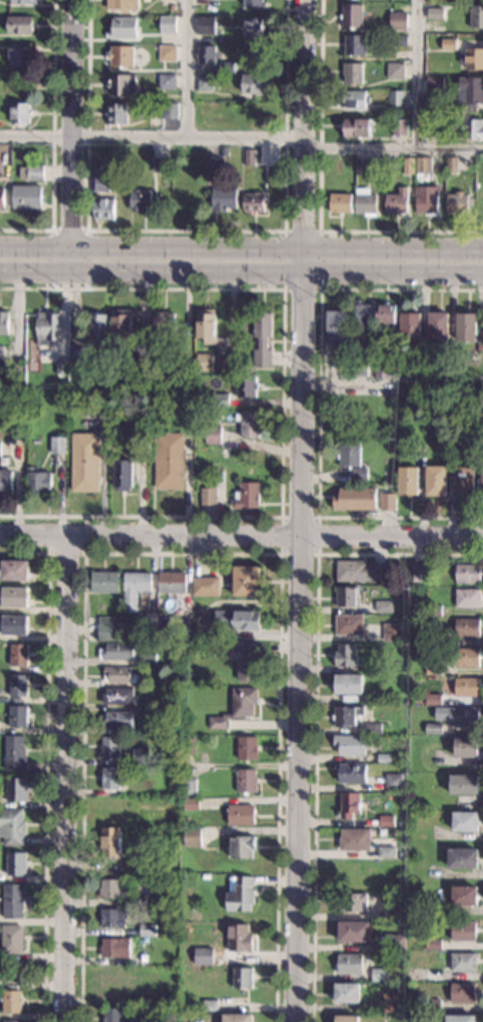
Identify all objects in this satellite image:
building: (24, 2)
building: (253, 4)
building: (122, 5)
building: (172, 7)
building: (434, 13)
building: (350, 15)
building: (476, 16)
building: (396, 21)
building: (166, 24)
building: (19, 25)
building: (205, 25)
building: (252, 27)
building: (123, 28)
building: (398, 40)
building: (447, 44)
building: (354, 45)
building: (166, 53)
building: (205, 54)
building: (120, 55)
building: (19, 56)
building: (472, 59)
building: (226, 67)
road: (186, 68)
building: (394, 70)
building: (351, 73)
road: (417, 74)
building: (166, 82)
building: (204, 82)
building: (252, 83)
building: (122, 84)
building: (433, 85)
building: (469, 93)
building: (354, 99)
building: (395, 99)
building: (169, 111)
building: (201, 111)
building: (19, 113)
building: (254, 113)
building: (116, 114)
building: (430, 124)
building: (398, 127)
building: (356, 128)
building: (472, 128)
road: (71, 134)
road: (150, 136)
road: (52, 140)
road: (392, 147)
building: (224, 151)
building: (249, 157)
building: (479, 164)
building: (162, 165)
building: (450, 165)
building: (214, 166)
building: (360, 166)
building: (407, 166)
building: (421, 167)
building: (31, 173)
building: (101, 183)
building: (1, 197)
building: (26, 197)
road: (318, 197)
building: (186, 198)
building: (426, 199)
building: (139, 200)
building: (223, 200)
building: (364, 201)
building: (253, 202)
building: (396, 202)
building: (340, 203)
building: (457, 203)
building: (479, 204)
building: (103, 209)
road: (185, 230)
road: (52, 241)
road: (241, 249)
road: (241, 269)
road: (318, 289)
building: (385, 313)
building: (360, 316)
building: (163, 321)
building: (4, 323)
building: (205, 325)
building: (120, 326)
building: (409, 326)
building: (336, 327)
building: (437, 327)
building: (465, 327)
building: (47, 328)
building: (96, 328)
building: (261, 339)
building: (1, 354)
building: (141, 354)
building: (76, 355)
building: (203, 362)
building: (185, 365)
building: (60, 366)
building: (337, 366)
building: (358, 368)
building: (381, 371)
building: (245, 386)
building: (482, 392)
building: (220, 401)
road: (281, 401)
road: (318, 404)
building: (387, 404)
building: (476, 404)
building: (248, 423)
building: (371, 423)
building: (212, 435)
building: (444, 436)
building: (58, 445)
building: (142, 445)
building: (0, 448)
building: (415, 450)
building: (348, 452)
building: (168, 461)
building: (84, 462)
building: (358, 473)
building: (121, 475)
building: (5, 481)
building: (38, 481)
building: (406, 481)
building: (435, 481)
building: (463, 481)
building: (482, 481)
building: (208, 496)
building: (246, 496)
building: (355, 498)
building: (386, 501)
road: (299, 510)
road: (241, 535)
road: (84, 551)
road: (181, 552)
road: (316, 552)
building: (14, 570)
building: (360, 571)
building: (419, 573)
building: (467, 573)
building: (104, 581)
building: (245, 581)
building: (172, 583)
building: (204, 586)
building: (134, 588)
building: (346, 596)
building: (14, 597)
building: (466, 598)
building: (382, 606)
building: (427, 610)
building: (150, 620)
building: (236, 620)
building: (13, 625)
building: (348, 625)
building: (106, 628)
building: (466, 628)
building: (390, 632)
building: (413, 639)
building: (433, 639)
building: (403, 647)
building: (244, 648)
building: (116, 651)
building: (18, 655)
building: (345, 656)
building: (466, 657)
building: (147, 659)
building: (152, 669)
building: (245, 669)
building: (432, 669)
building: (119, 675)
building: (348, 684)
building: (18, 685)
building: (465, 687)
building: (117, 696)
building: (432, 699)
building: (242, 701)
road: (314, 704)
building: (457, 715)
building: (17, 716)
building: (346, 716)
building: (117, 720)
building: (217, 723)
building: (372, 729)
building: (432, 729)
building: (186, 745)
building: (350, 745)
building: (110, 747)
building: (246, 748)
building: (465, 748)
building: (13, 752)
building: (140, 756)
building: (384, 758)
road: (45, 763)
building: (351, 773)
road: (65, 778)
building: (109, 778)
building: (245, 780)
building: (392, 782)
building: (463, 784)
building: (189, 785)
building: (175, 786)
building: (15, 790)
building: (190, 803)
building: (348, 804)
building: (110, 809)
building: (240, 815)
building: (138, 818)
building: (184, 820)
building: (385, 821)
building: (464, 822)
building: (12, 826)
building: (191, 836)
building: (353, 840)
building: (109, 842)
building: (241, 846)
building: (185, 851)
building: (385, 852)
building: (462, 859)
building: (15, 864)
building: (161, 867)
building: (348, 873)
building: (114, 889)
building: (239, 895)
building: (463, 896)
building: (12, 901)
building: (140, 903)
building: (352, 903)
building: (391, 910)
building: (112, 918)
building: (146, 930)
building: (463, 931)
building: (353, 932)
building: (237, 938)
building: (11, 939)
building: (394, 942)
building: (432, 944)
building: (114, 948)
building: (202, 956)
building: (143, 958)
building: (462, 962)
building: (349, 964)
building: (9, 972)
building: (433, 974)
building: (379, 975)
building: (112, 977)
building: (241, 977)
building: (461, 992)
building: (346, 993)
building: (135, 997)
building: (11, 1002)
building: (168, 1003)
building: (389, 1003)
building: (209, 1005)
building: (432, 1005)
building: (111, 1015)
building: (154, 1018)
building: (236, 1018)
building: (346, 1018)
building: (460, 1018)
building: (12, 1021)

